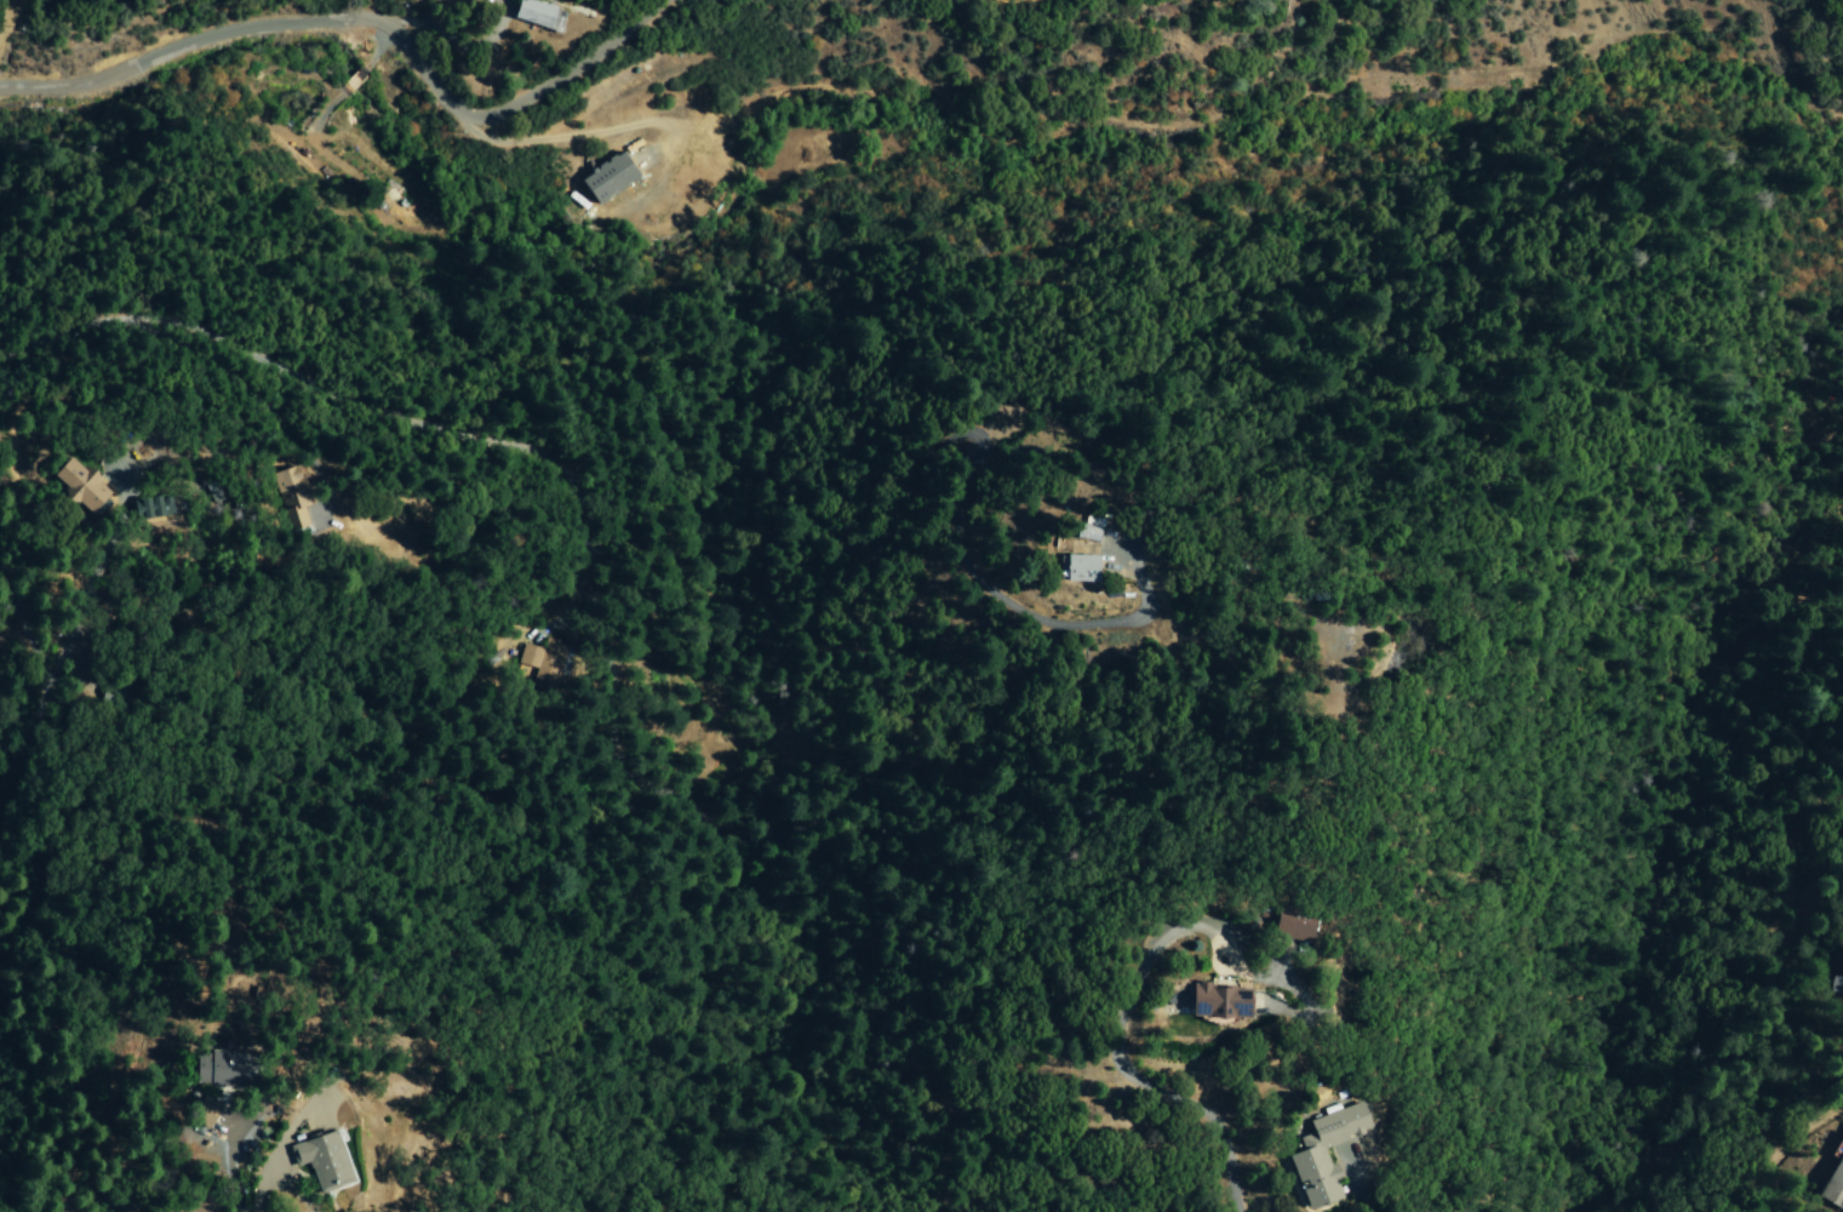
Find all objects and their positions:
building: (539, 15)
road: (366, 42)
building: (607, 178)
road: (391, 412)
building: (78, 485)
building: (291, 497)
building: (147, 508)
building: (1088, 528)
building: (1078, 568)
road: (84, 594)
road: (11, 659)
road: (18, 662)
building: (542, 665)
building: (1289, 926)
road: (1221, 972)
building: (1837, 981)
building: (1214, 1002)
road: (1122, 1067)
building: (219, 1069)
building: (202, 1111)
building: (1323, 1154)
building: (324, 1160)
road: (233, 1176)
building: (1833, 1185)

